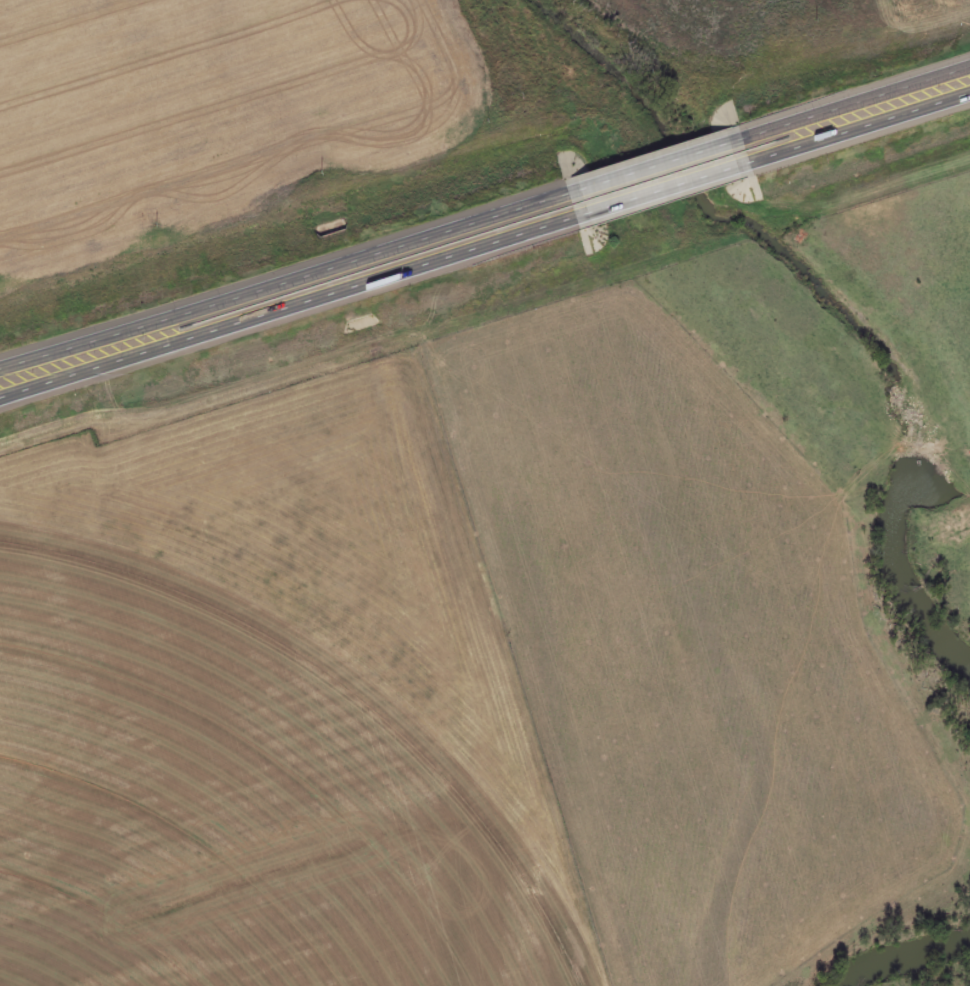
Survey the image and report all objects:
road: (853, 105)
road: (859, 132)
road: (651, 168)
road: (662, 194)
road: (282, 279)
road: (288, 317)

